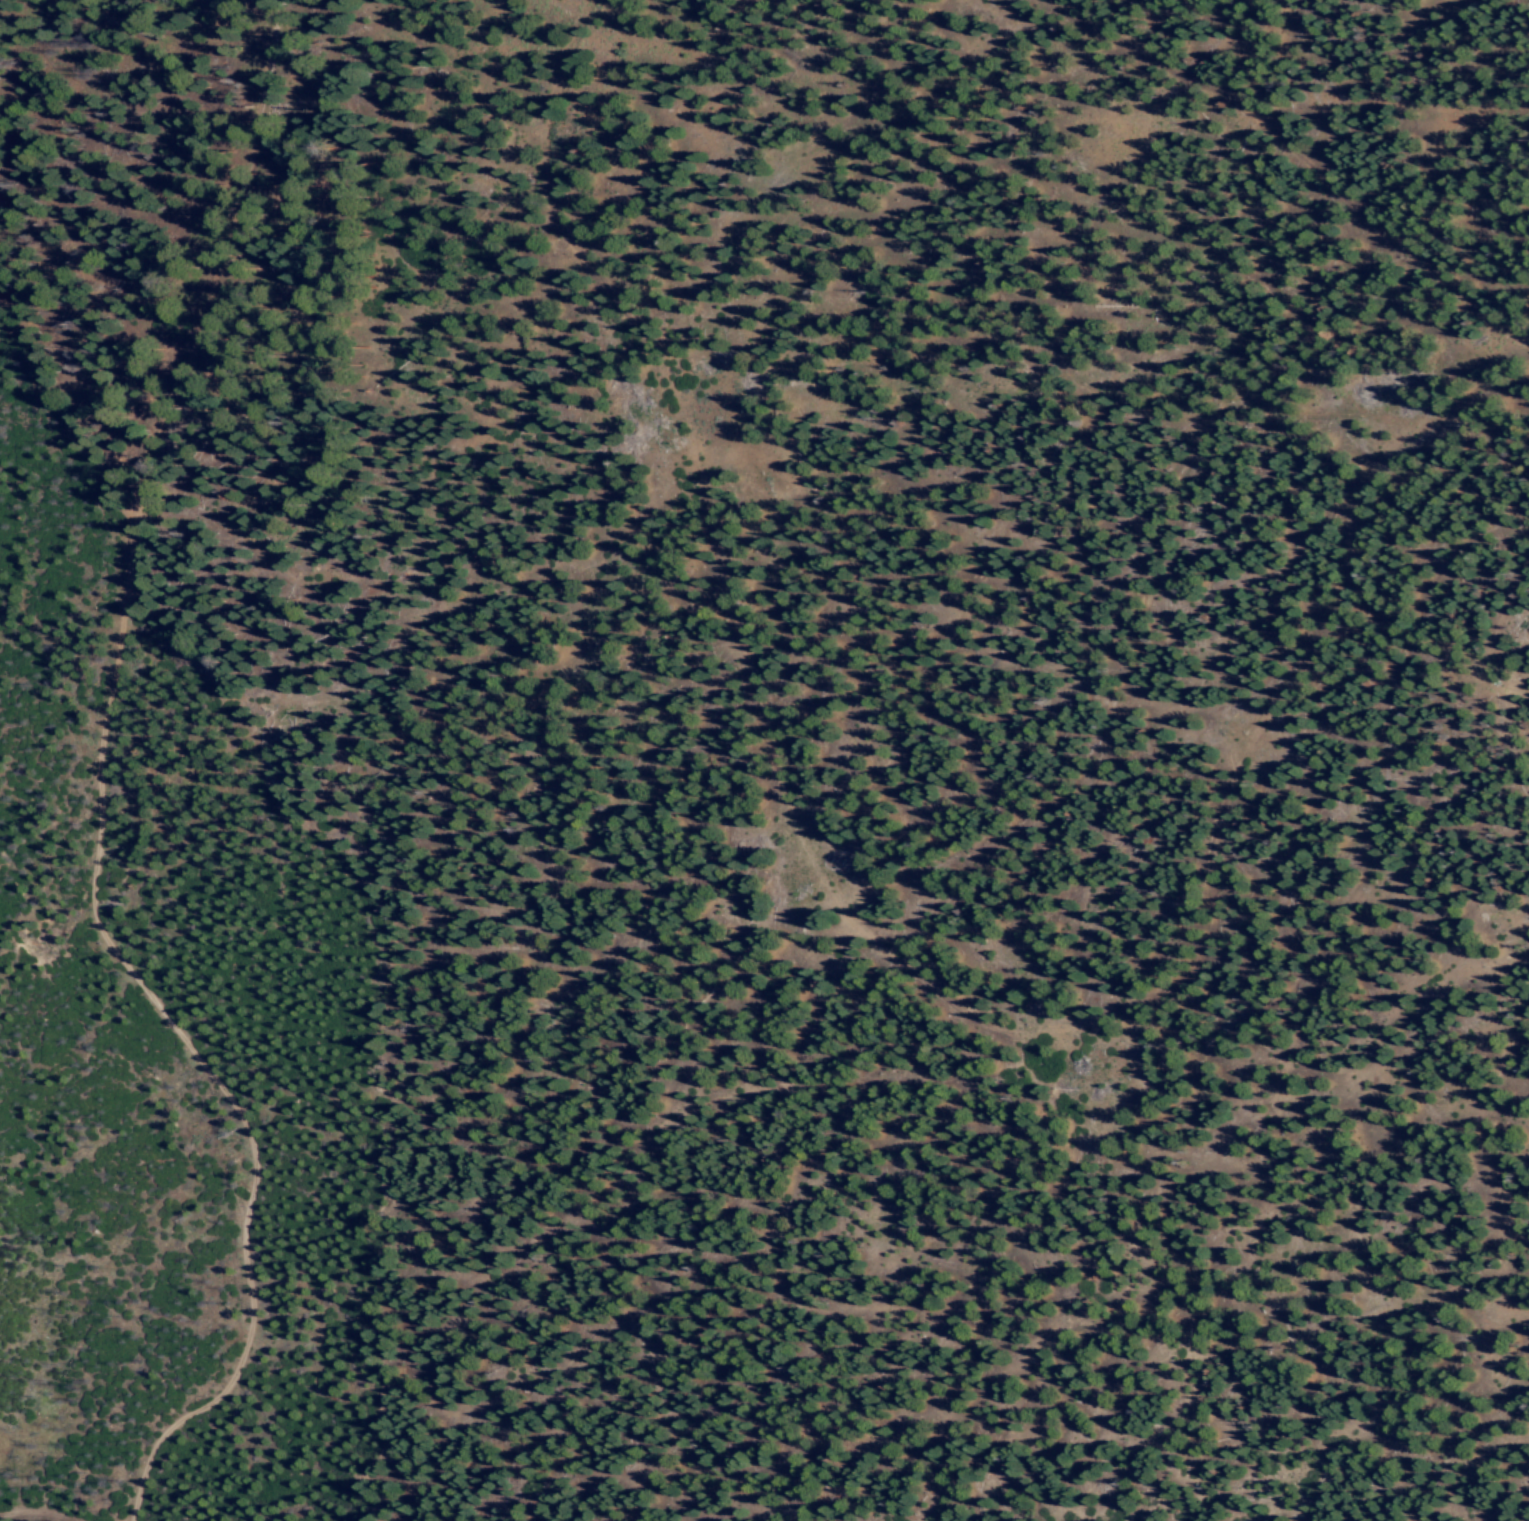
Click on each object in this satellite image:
road: (161, 388)
road: (42, 1511)

